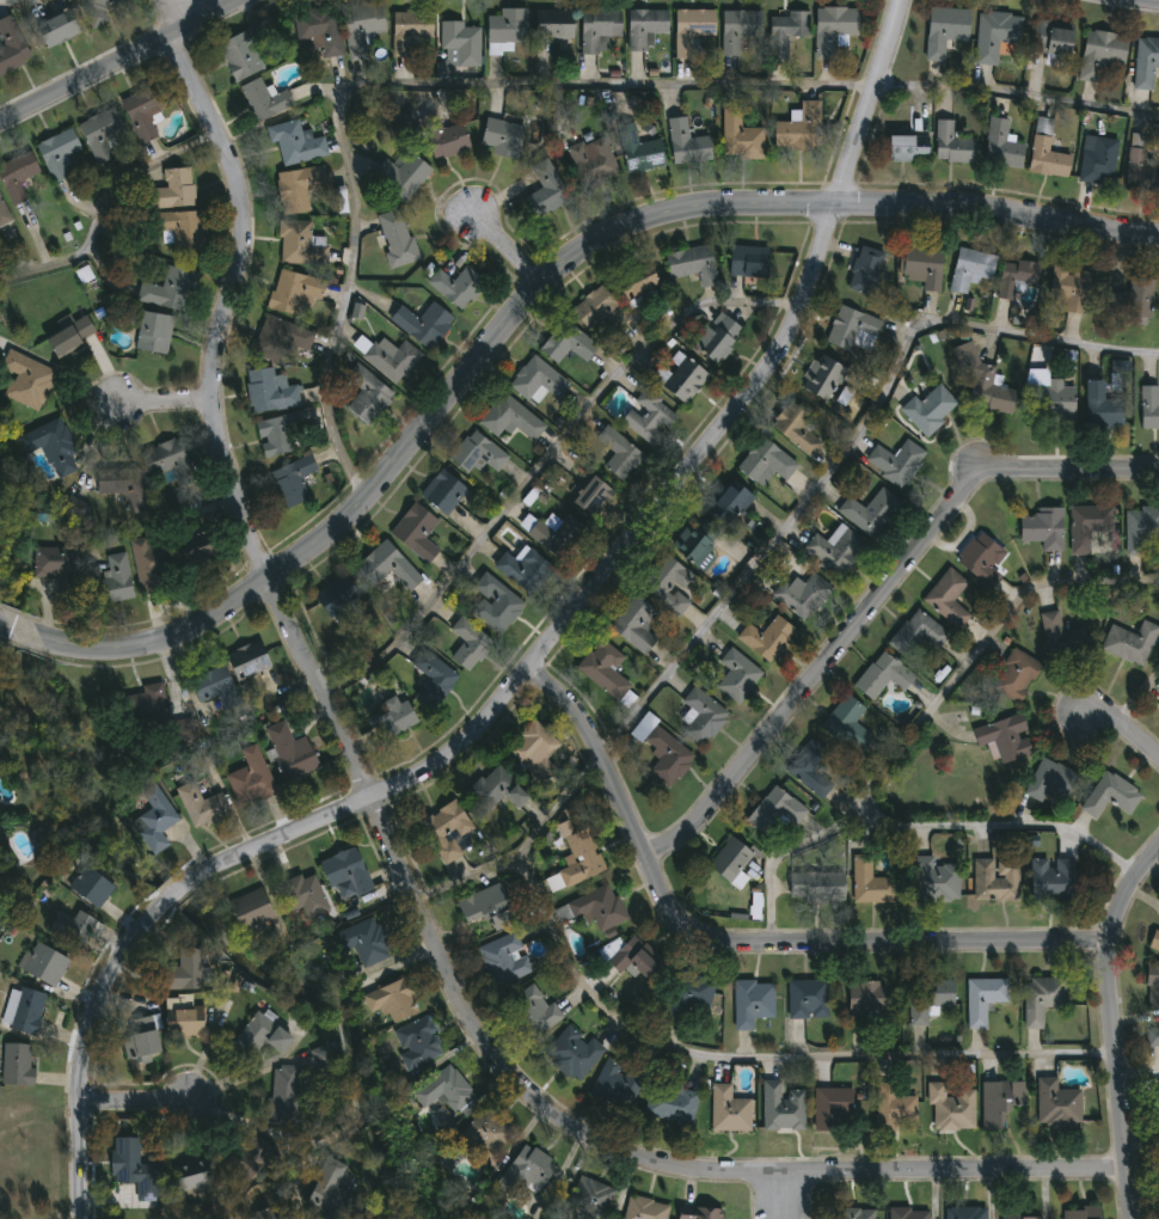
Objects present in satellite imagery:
road: (4, 0)
road: (1140, 1)
road: (191, 10)
building: (98, 11)
building: (366, 24)
building: (558, 26)
building: (60, 27)
building: (602, 27)
building: (649, 27)
building: (323, 29)
building: (413, 29)
building: (736, 30)
building: (830, 30)
building: (943, 30)
building: (693, 31)
building: (784, 35)
building: (993, 35)
building: (511, 37)
building: (465, 42)
building: (1049, 42)
building: (13, 47)
building: (247, 51)
building: (1099, 54)
road: (121, 60)
building: (1145, 62)
road: (540, 82)
building: (268, 99)
road: (879, 104)
building: (146, 112)
building: (796, 127)
building: (104, 134)
building: (447, 137)
building: (507, 137)
building: (738, 137)
building: (298, 143)
building: (683, 143)
building: (950, 145)
building: (999, 145)
building: (904, 147)
building: (642, 148)
building: (61, 153)
building: (1044, 153)
building: (595, 159)
building: (1096, 159)
building: (1139, 163)
building: (405, 173)
building: (25, 177)
building: (302, 188)
building: (176, 190)
building: (551, 190)
building: (5, 212)
building: (182, 229)
building: (400, 240)
building: (303, 243)
road: (507, 245)
building: (746, 259)
building: (692, 263)
building: (920, 263)
building: (968, 268)
building: (863, 269)
building: (1014, 276)
building: (643, 282)
building: (460, 286)
building: (171, 288)
building: (1067, 288)
building: (298, 290)
building: (1128, 299)
road: (226, 305)
building: (602, 308)
building: (357, 311)
road: (525, 312)
building: (427, 324)
building: (851, 327)
building: (157, 331)
building: (74, 335)
building: (713, 336)
building: (282, 338)
building: (571, 342)
building: (392, 356)
building: (679, 376)
building: (821, 376)
building: (30, 378)
building: (981, 379)
building: (540, 380)
building: (272, 391)
building: (372, 394)
building: (1047, 397)
road: (164, 402)
building: (1099, 405)
building: (926, 406)
building: (1148, 406)
building: (649, 415)
building: (514, 417)
building: (795, 428)
building: (282, 435)
building: (56, 445)
building: (480, 452)
road: (845, 453)
building: (628, 459)
building: (172, 460)
building: (764, 460)
building: (895, 461)
building: (556, 477)
building: (295, 480)
building: (129, 488)
building: (449, 491)
building: (597, 495)
building: (75, 510)
building: (869, 512)
building: (709, 523)
building: (1086, 525)
building: (1042, 527)
building: (1140, 527)
building: (419, 531)
building: (557, 532)
building: (204, 546)
building: (833, 547)
building: (980, 559)
building: (149, 564)
building: (60, 566)
building: (528, 568)
building: (392, 569)
building: (117, 580)
building: (666, 583)
building: (801, 594)
building: (341, 596)
building: (946, 598)
building: (499, 604)
road: (873, 605)
building: (632, 623)
building: (915, 633)
building: (1061, 636)
building: (765, 637)
building: (1128, 642)
building: (472, 643)
building: (252, 661)
building: (1, 672)
building: (605, 672)
building: (735, 674)
building: (1014, 674)
building: (437, 675)
building: (879, 675)
building: (2, 679)
building: (217, 687)
building: (149, 709)
building: (1158, 713)
building: (699, 716)
road: (925, 716)
building: (398, 718)
building: (845, 722)
road: (1123, 731)
building: (1001, 737)
building: (539, 741)
building: (662, 748)
building: (294, 753)
road: (461, 753)
building: (809, 767)
building: (255, 777)
building: (1049, 780)
building: (491, 790)
building: (1109, 795)
building: (206, 805)
road: (557, 808)
building: (772, 810)
building: (158, 819)
road: (1001, 825)
building: (452, 829)
building: (728, 862)
building: (582, 863)
building: (349, 870)
building: (933, 880)
building: (994, 880)
building: (1050, 880)
building: (870, 882)
building: (93, 886)
building: (814, 886)
building: (307, 895)
building: (491, 907)
building: (255, 909)
building: (599, 911)
building: (75, 929)
building: (1153, 939)
building: (367, 942)
road: (746, 942)
building: (507, 960)
building: (44, 962)
building: (637, 962)
building: (189, 970)
building: (1152, 984)
building: (695, 992)
building: (805, 998)
building: (982, 998)
building: (1041, 998)
building: (866, 999)
building: (926, 999)
building: (393, 1004)
building: (753, 1004)
building: (25, 1010)
building: (534, 1011)
building: (186, 1016)
road: (1114, 1028)
building: (265, 1035)
building: (1152, 1036)
building: (145, 1037)
building: (422, 1042)
building: (326, 1052)
building: (576, 1054)
road: (713, 1058)
building: (19, 1065)
building: (619, 1084)
building: (449, 1094)
building: (286, 1097)
building: (1000, 1099)
road: (139, 1103)
building: (675, 1103)
building: (893, 1104)
building: (949, 1104)
building: (1055, 1105)
building: (828, 1107)
building: (1154, 1107)
building: (784, 1108)
building: (732, 1109)
road: (544, 1110)
building: (487, 1133)
building: (253, 1158)
building: (137, 1170)
building: (531, 1170)
building: (200, 1174)
building: (333, 1190)
building: (593, 1195)
road: (783, 1196)
building: (648, 1208)
building: (1006, 1209)
building: (907, 1212)
building: (275, 1213)
building: (701, 1213)
building: (963, 1213)
building: (1081, 1213)
building: (853, 1214)

